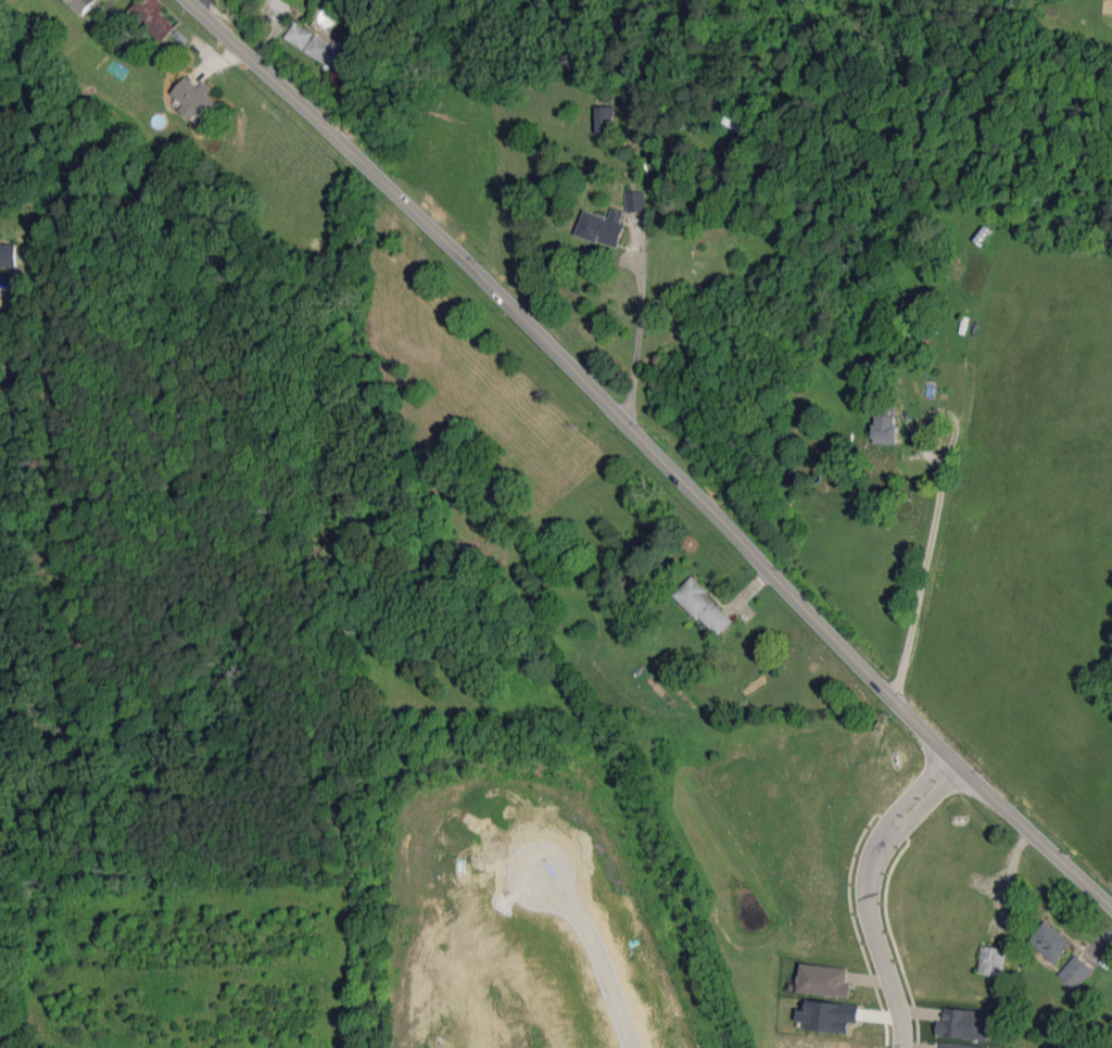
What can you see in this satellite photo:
building: (84, 4)
building: (155, 17)
building: (299, 35)
building: (326, 51)
building: (194, 99)
building: (602, 119)
building: (634, 201)
building: (602, 227)
building: (9, 255)
road: (639, 324)
building: (884, 429)
road: (653, 447)
road: (932, 568)
building: (704, 606)
road: (872, 892)
building: (1049, 940)
road: (594, 947)
building: (991, 960)
building: (1075, 972)
building: (823, 980)
building: (827, 1015)
building: (964, 1024)
building: (958, 1046)

